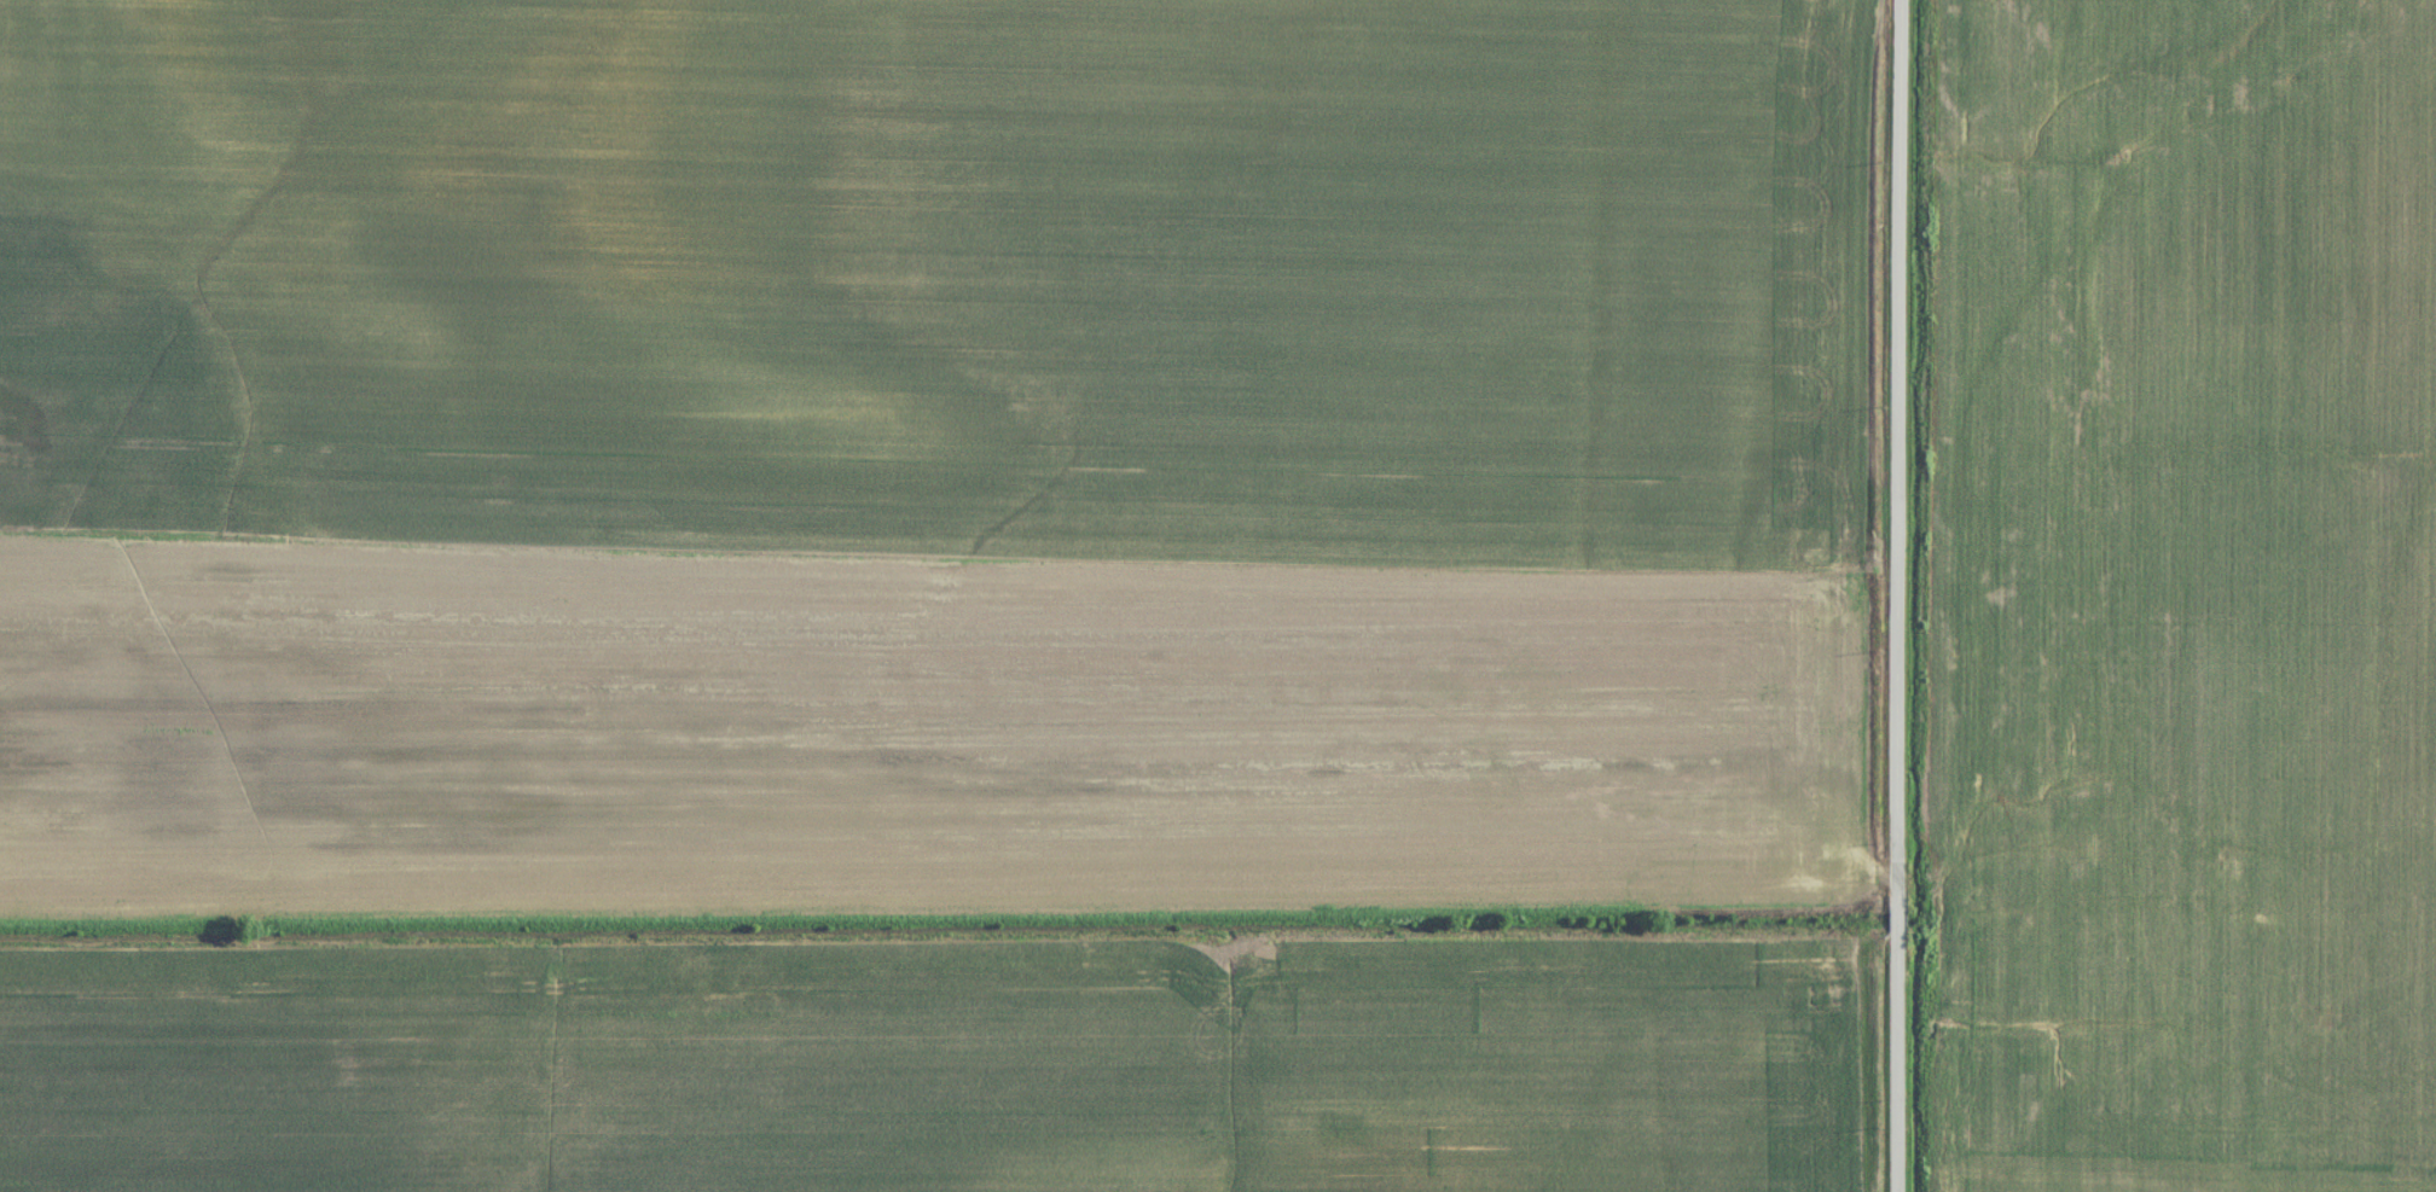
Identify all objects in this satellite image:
road: (1893, 595)

